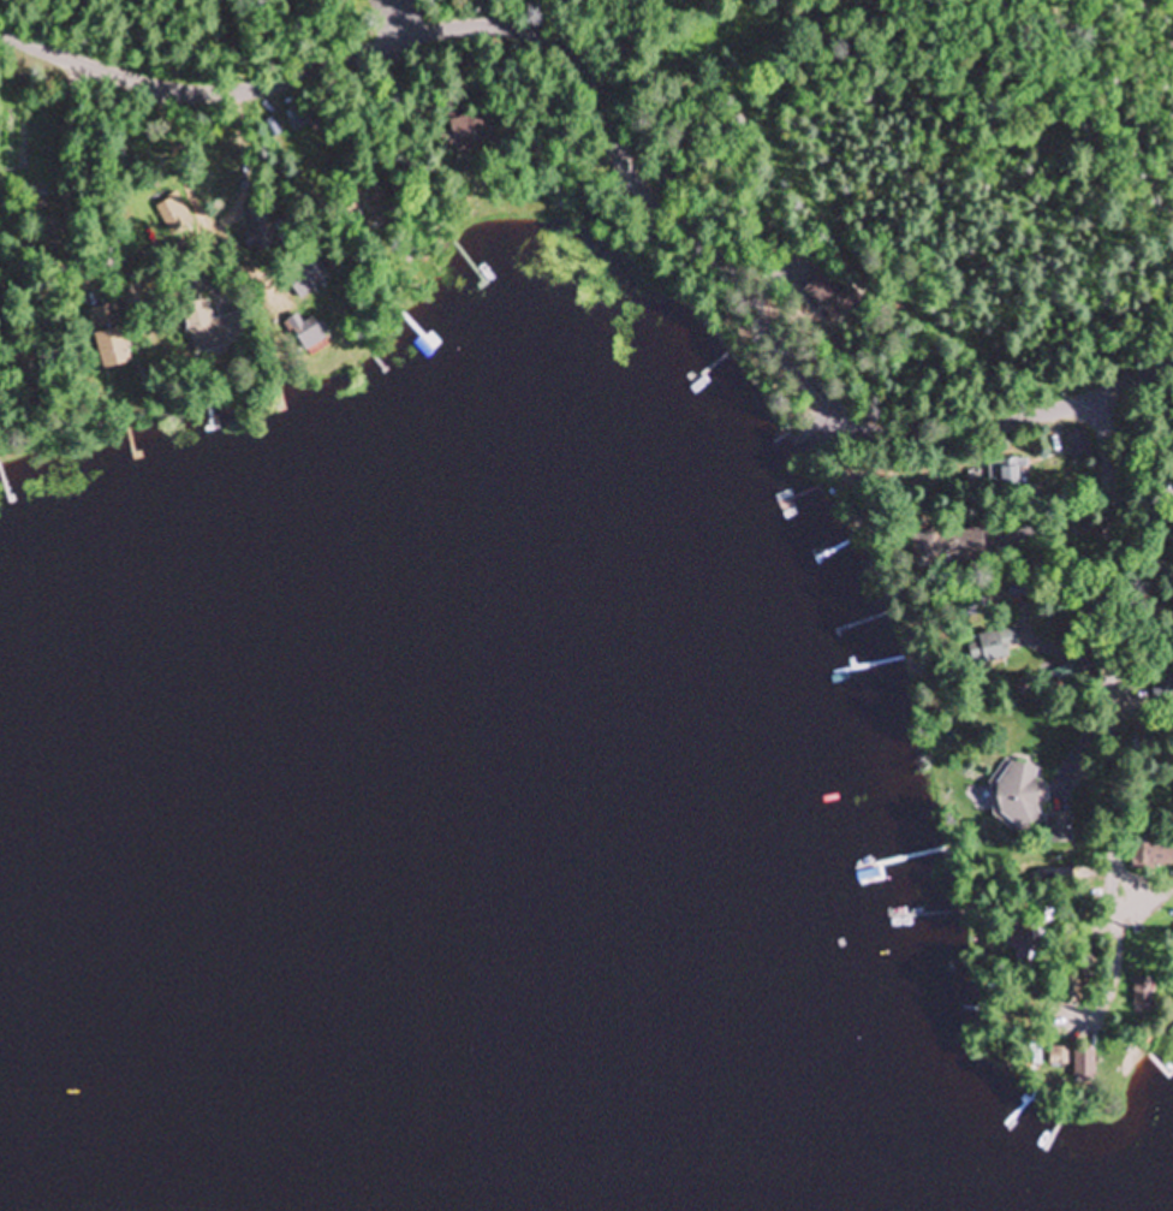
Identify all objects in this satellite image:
road: (512, 100)
building: (296, 120)
building: (464, 136)
road: (618, 139)
building: (367, 200)
building: (172, 214)
road: (120, 219)
building: (258, 228)
building: (309, 275)
building: (829, 299)
building: (206, 330)
building: (309, 331)
building: (111, 336)
road: (815, 420)
building: (1078, 445)
building: (1013, 475)
road: (1138, 512)
building: (958, 545)
building: (994, 647)
road: (1107, 685)
building: (1020, 794)
building: (1060, 829)
building: (1149, 850)
building: (1143, 995)
building: (1059, 1057)
building: (1085, 1065)

